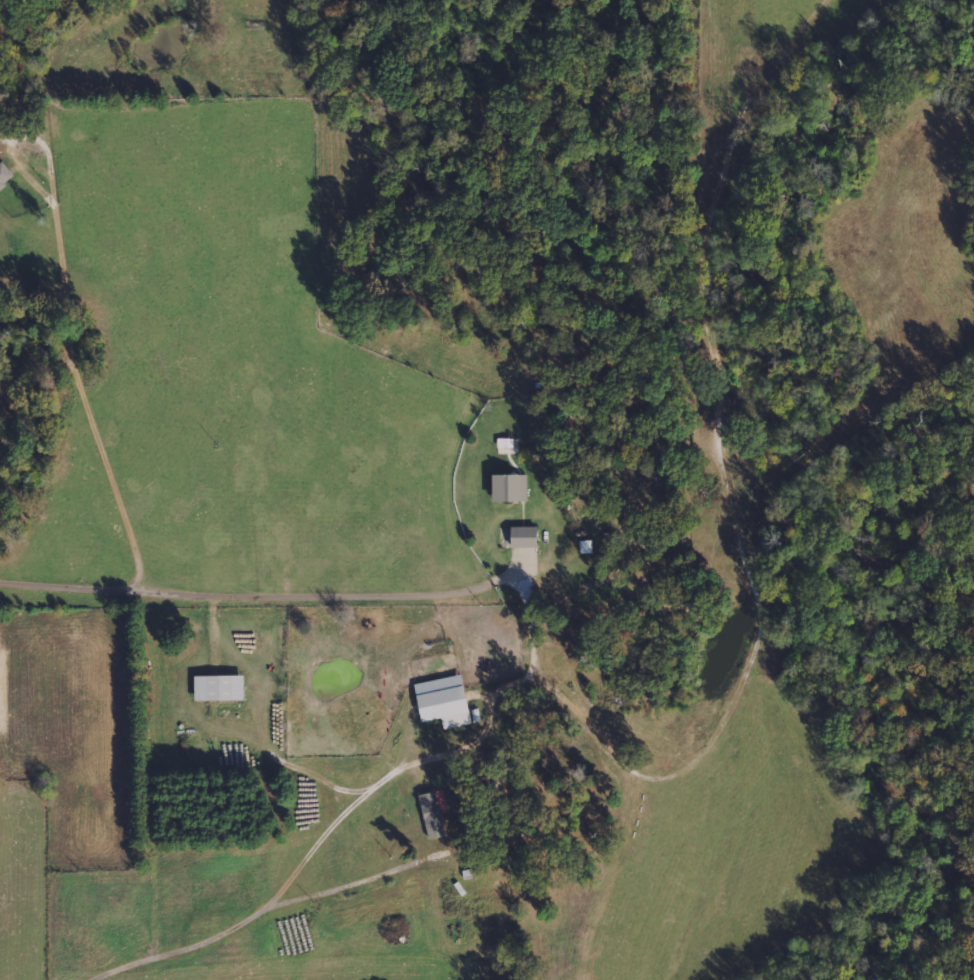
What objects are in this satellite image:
building: (525, 536)
building: (220, 688)
road: (222, 695)
building: (445, 701)
building: (433, 815)
road: (268, 901)

